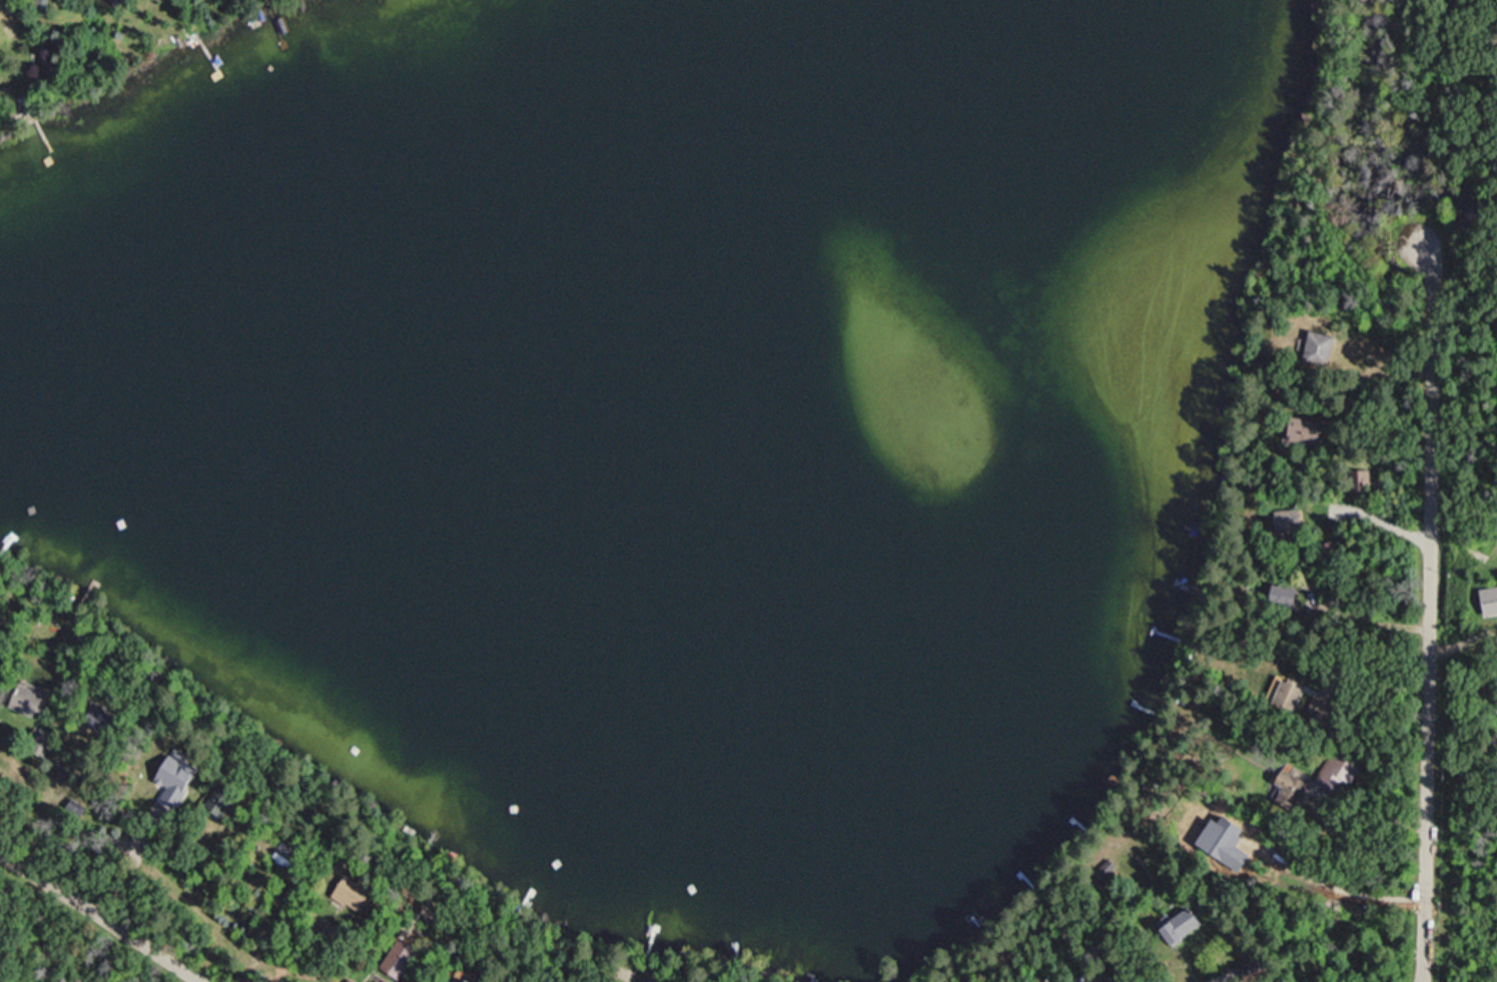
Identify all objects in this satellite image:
building: (121, 3)
building: (10, 28)
building: (1321, 347)
building: (1305, 431)
building: (1290, 521)
building: (1311, 583)
building: (1285, 604)
road: (1431, 613)
building: (1287, 695)
building: (30, 701)
building: (105, 719)
building: (44, 744)
building: (1338, 773)
building: (1295, 788)
building: (287, 861)
building: (355, 893)
road: (101, 917)
building: (467, 979)

